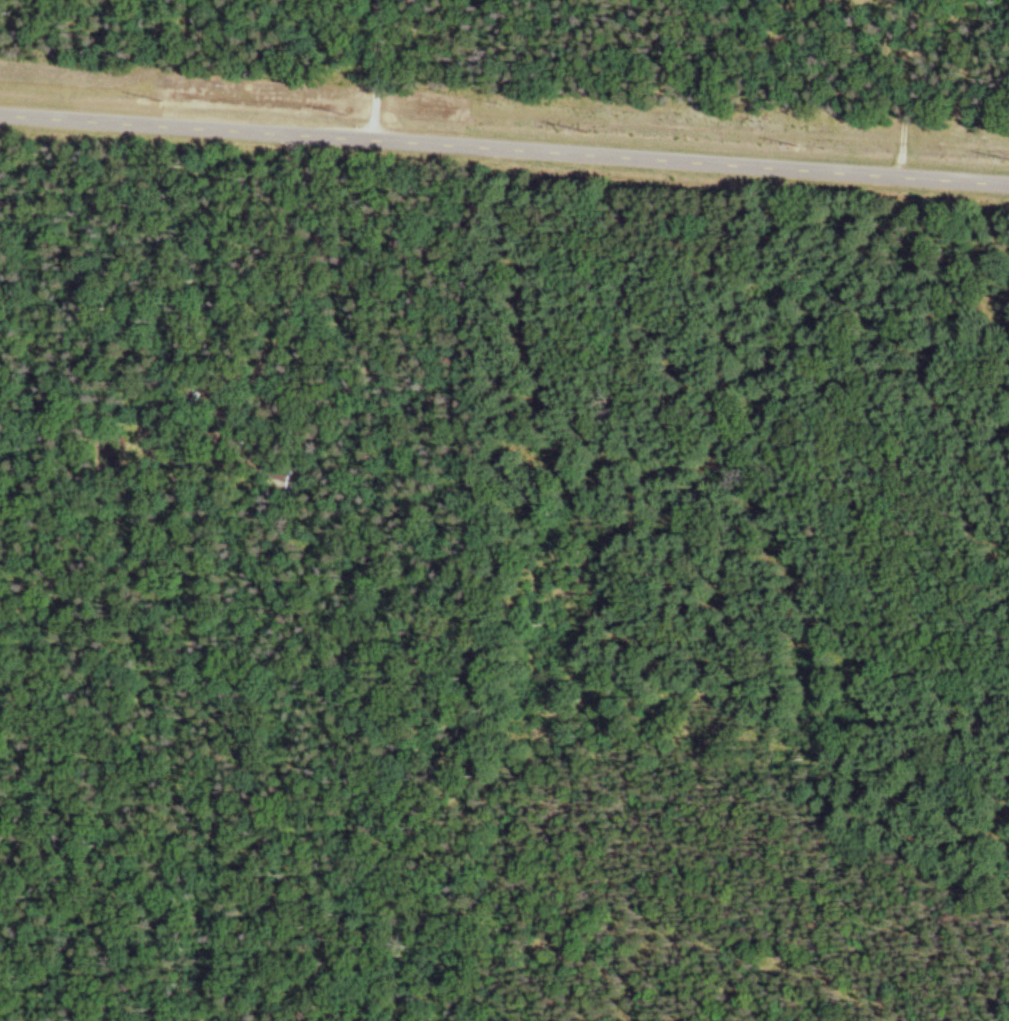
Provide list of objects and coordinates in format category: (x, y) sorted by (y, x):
road: (903, 87)
road: (504, 149)

